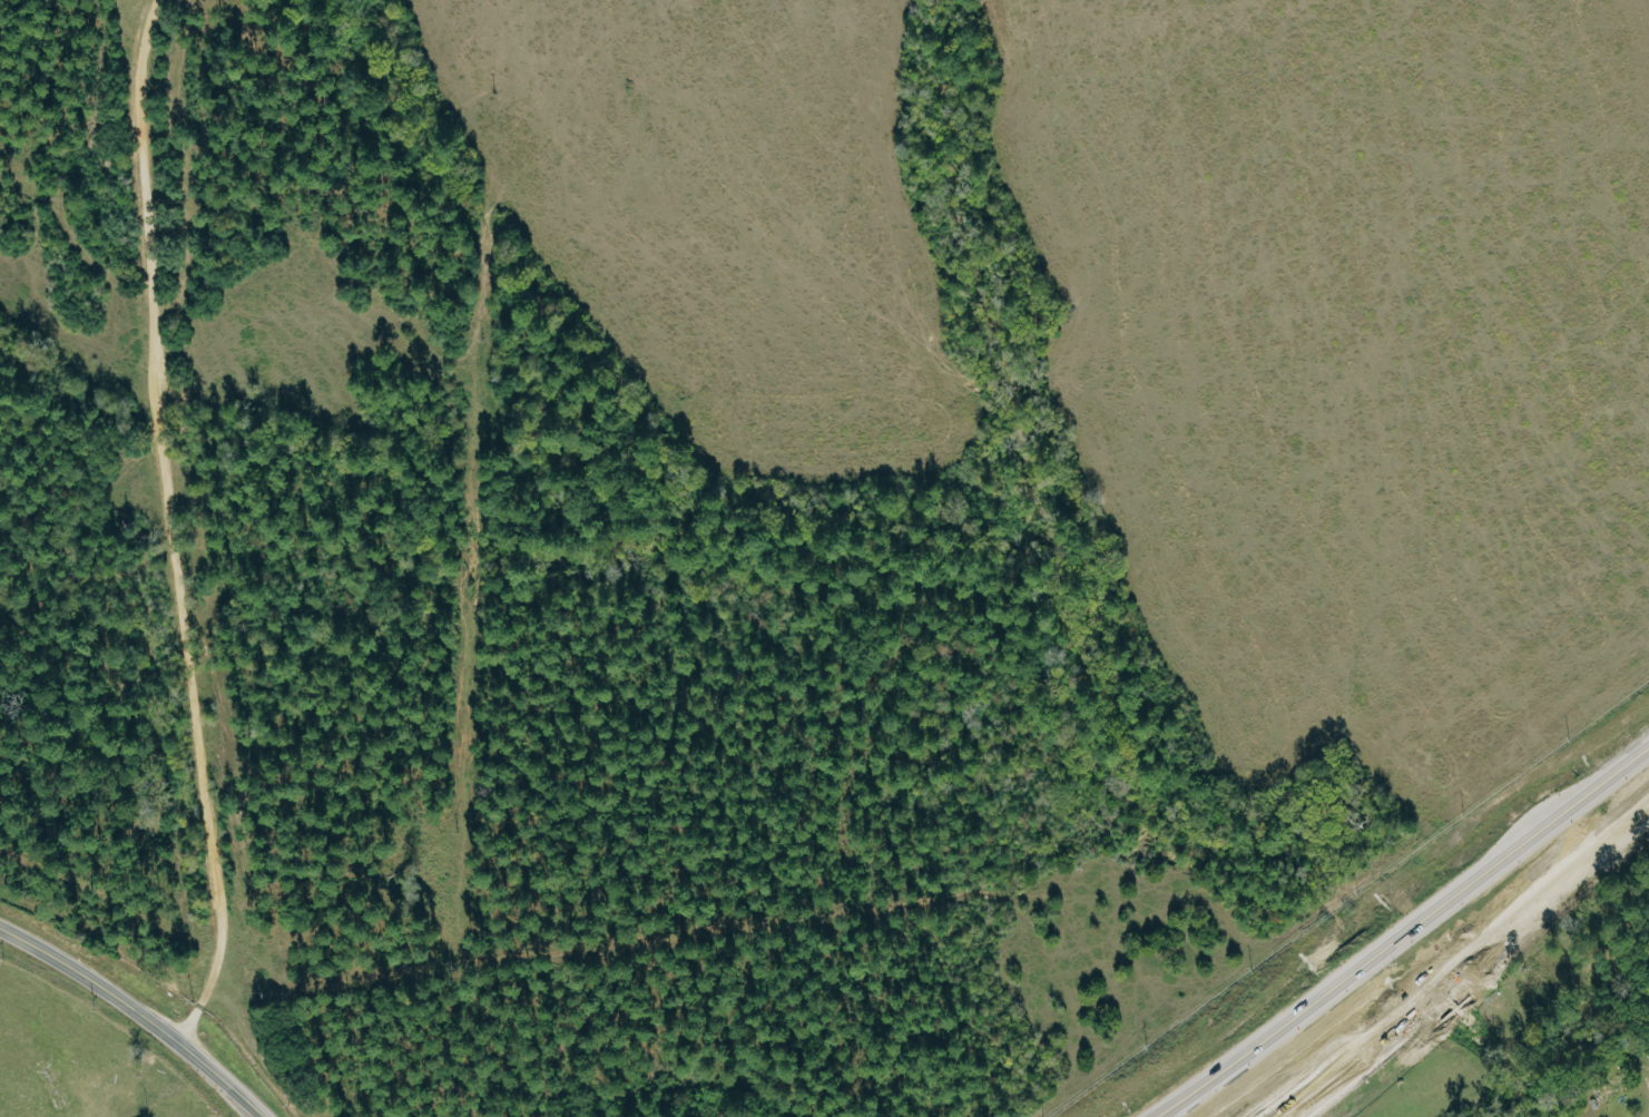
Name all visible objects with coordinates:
road: (166, 526)
road: (1406, 937)
road: (1468, 962)
road: (132, 1012)

